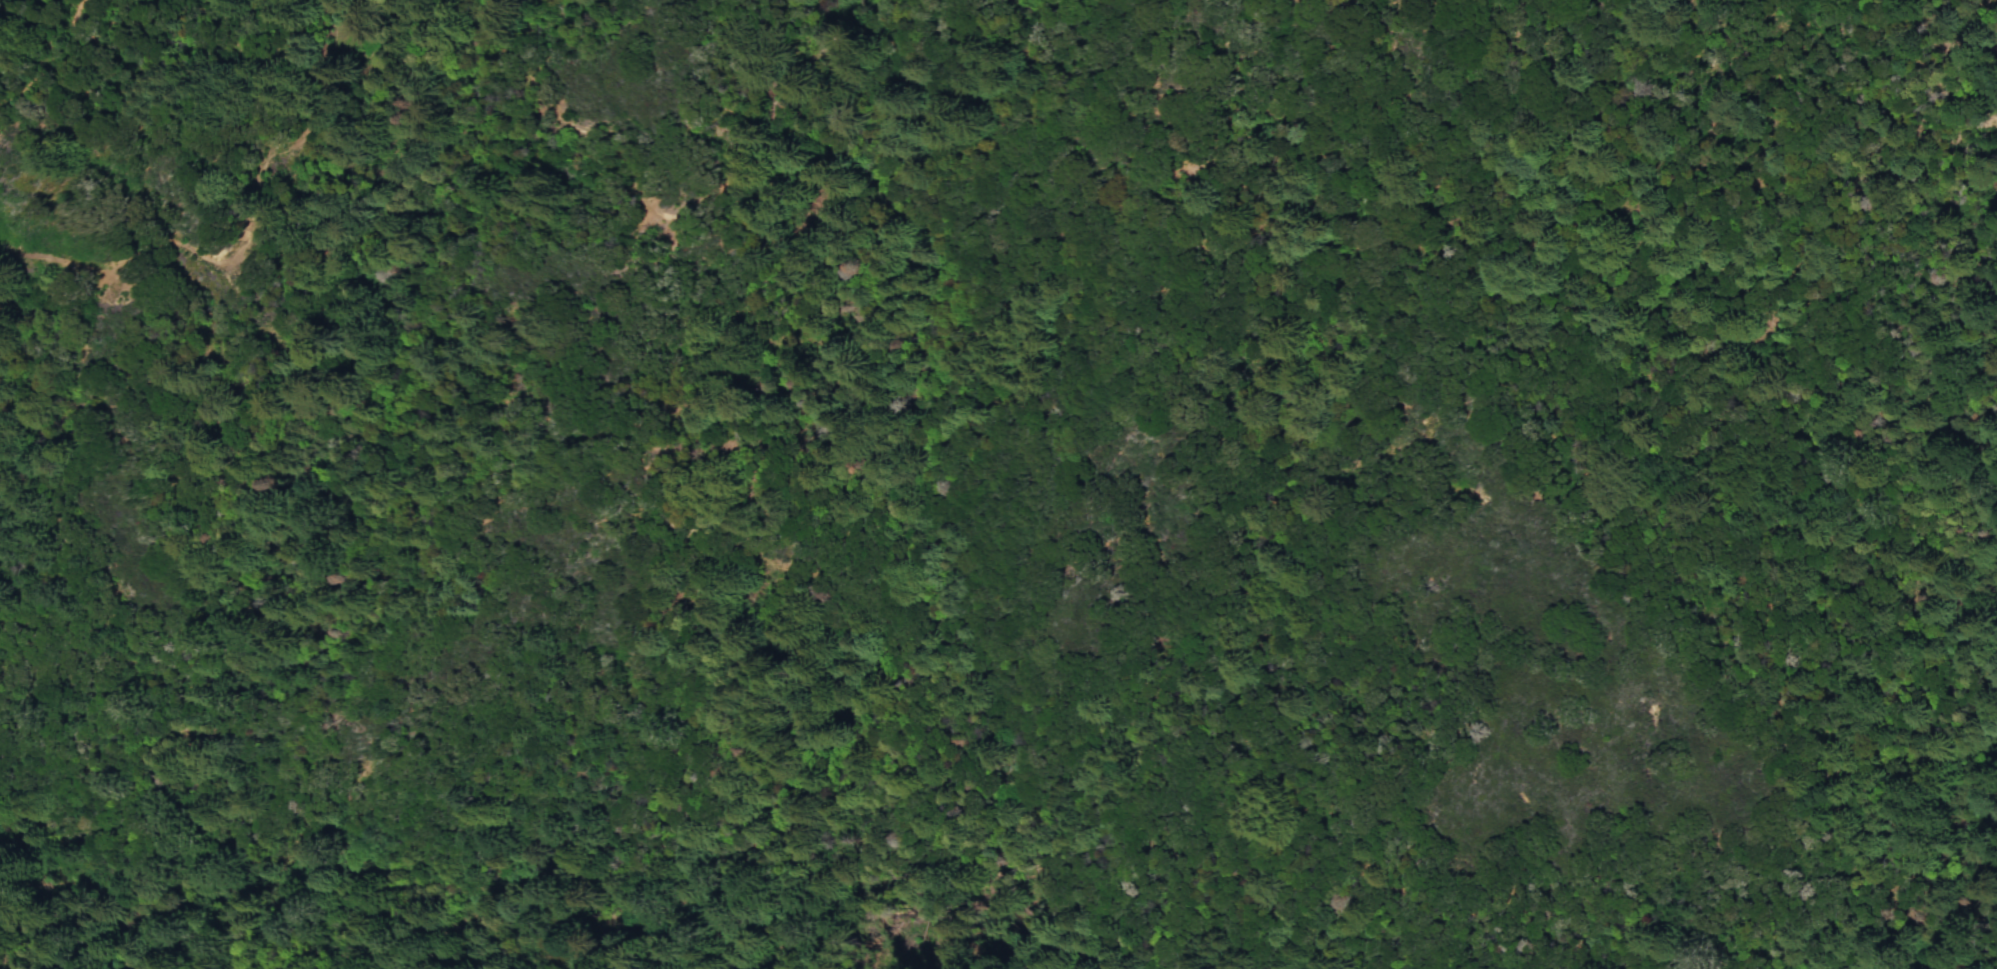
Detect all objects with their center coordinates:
road: (43, 50)
road: (652, 212)
road: (240, 236)

